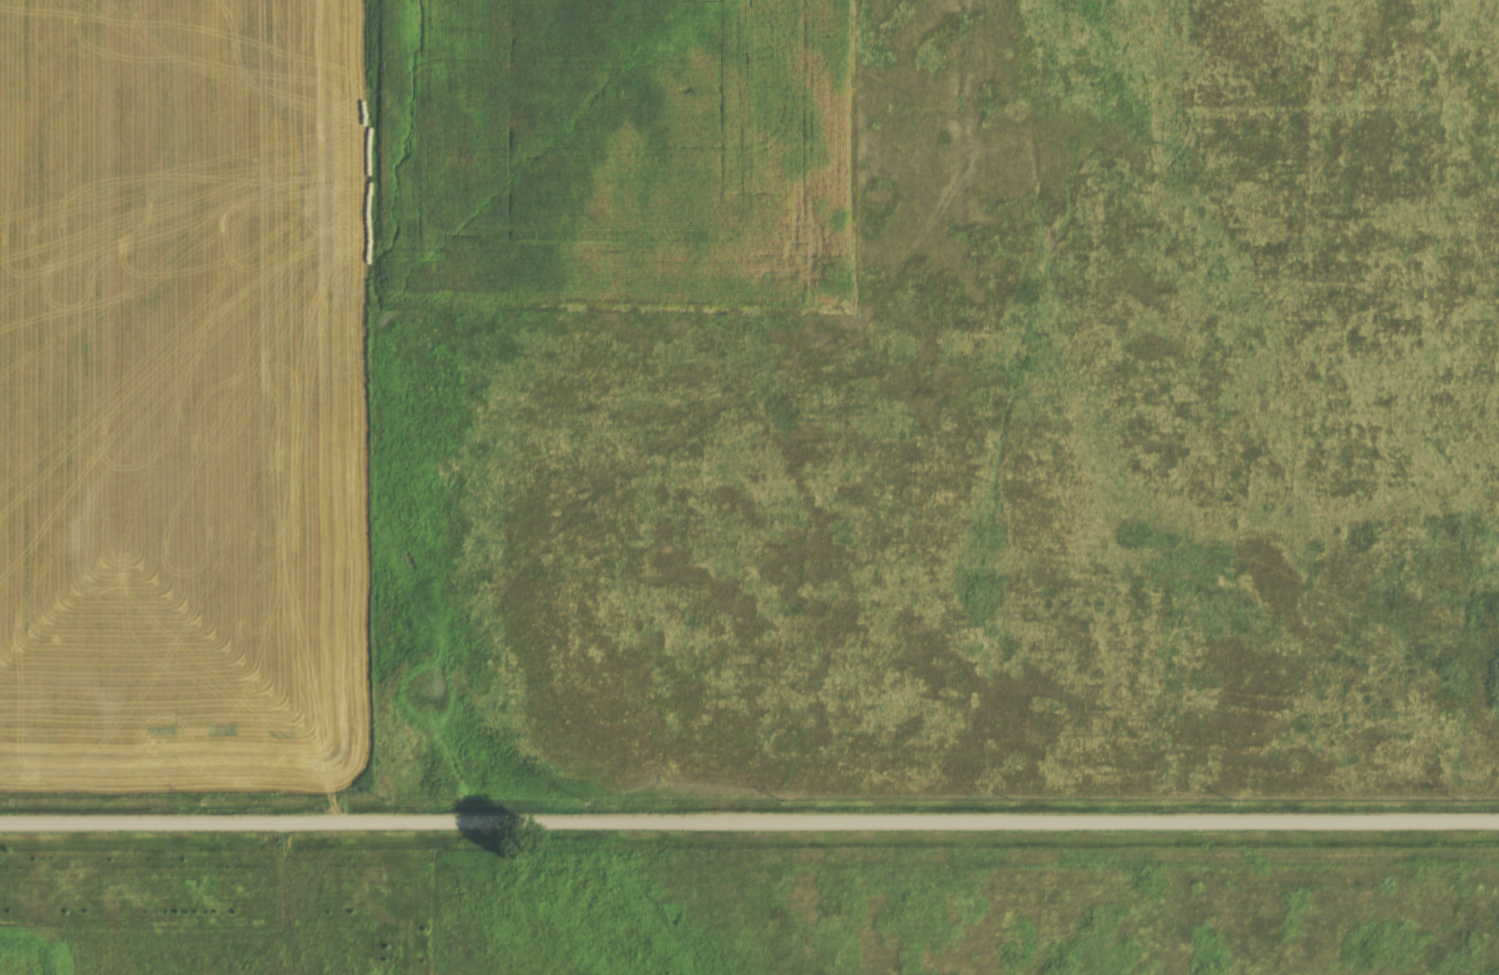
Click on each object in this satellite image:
road: (749, 816)

